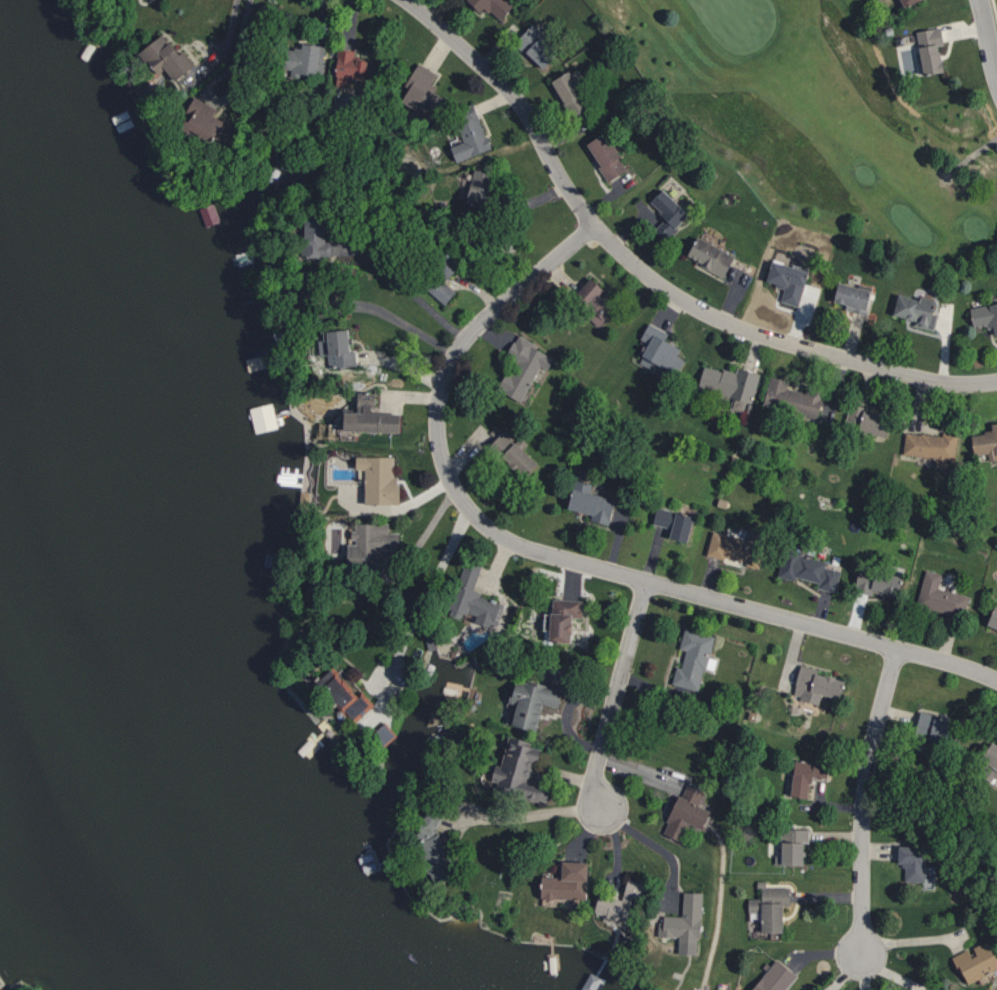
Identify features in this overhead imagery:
building: (900, 2)
building: (909, 2)
building: (496, 5)
road: (988, 40)
road: (236, 45)
road: (222, 47)
building: (538, 47)
building: (931, 52)
building: (157, 57)
building: (296, 58)
building: (342, 67)
building: (412, 86)
building: (571, 94)
building: (188, 119)
park: (833, 126)
building: (464, 132)
building: (607, 157)
road: (970, 158)
building: (474, 189)
building: (669, 216)
building: (711, 257)
road: (648, 275)
building: (789, 280)
building: (436, 281)
road: (411, 293)
building: (854, 298)
building: (586, 300)
building: (919, 312)
building: (985, 316)
road: (404, 323)
building: (334, 349)
building: (655, 350)
building: (518, 367)
building: (726, 384)
building: (786, 398)
building: (258, 417)
building: (360, 417)
building: (861, 420)
building: (983, 443)
building: (926, 446)
building: (505, 454)
building: (373, 478)
building: (585, 503)
building: (671, 522)
building: (365, 539)
road: (556, 556)
building: (805, 568)
building: (877, 583)
building: (940, 597)
building: (473, 598)
building: (563, 617)
building: (992, 618)
road: (422, 639)
building: (693, 658)
building: (816, 684)
building: (344, 693)
road: (616, 693)
building: (531, 701)
building: (936, 727)
building: (383, 732)
building: (989, 764)
building: (519, 769)
building: (806, 775)
road: (864, 799)
building: (687, 811)
road: (531, 812)
road: (653, 843)
building: (432, 845)
building: (789, 846)
building: (912, 861)
building: (566, 881)
building: (619, 903)
building: (684, 920)
road: (913, 939)
building: (976, 961)
building: (775, 977)

